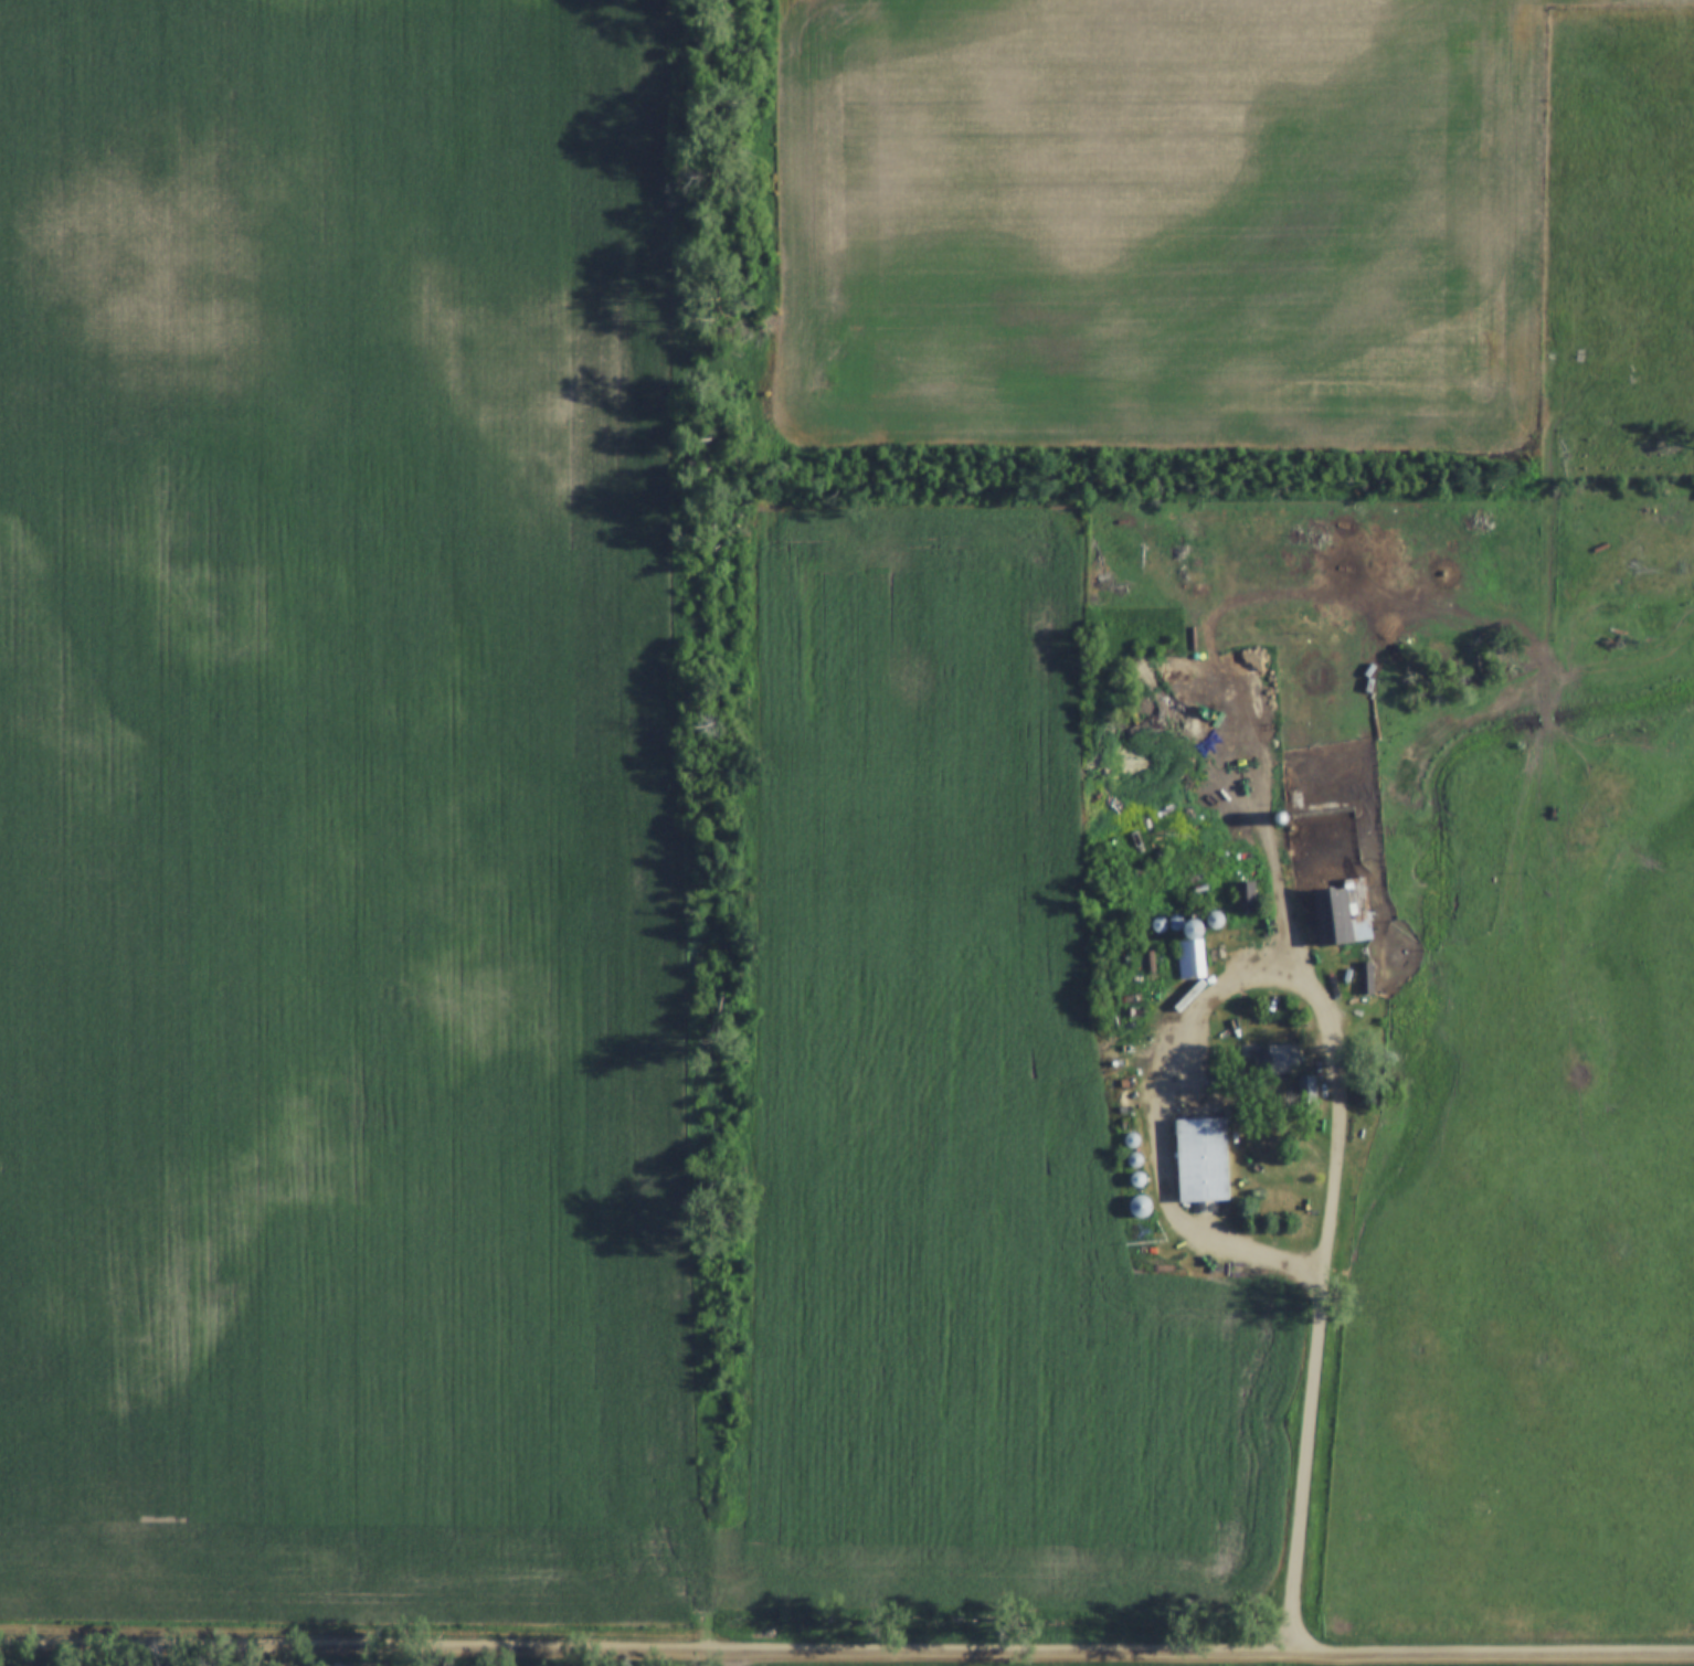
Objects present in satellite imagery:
road: (1281, 868)
building: (1246, 894)
building: (1342, 912)
building: (1213, 920)
building: (1189, 958)
building: (1275, 1057)
road: (1340, 1069)
building: (1307, 1093)
building: (1134, 1159)
building: (1201, 1159)
building: (1140, 1206)
road: (846, 1652)

